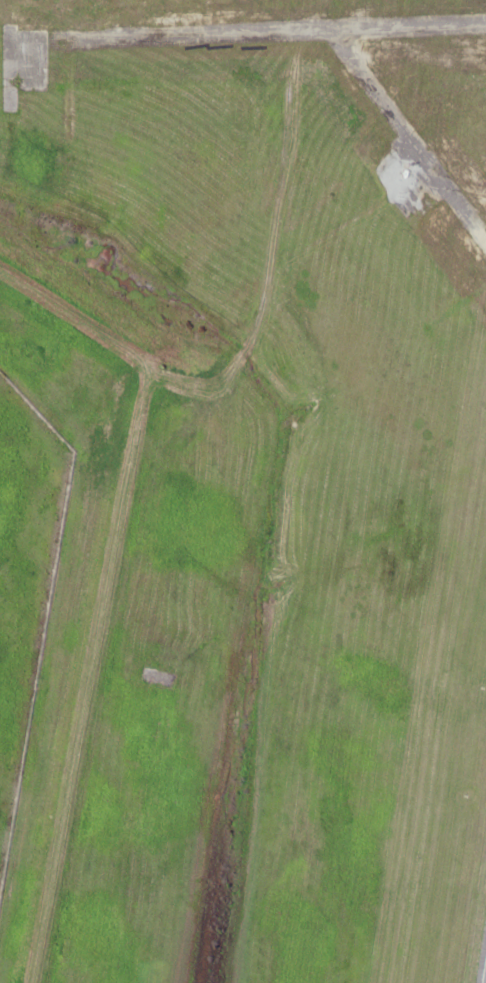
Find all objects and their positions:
airport: (258, 489)

